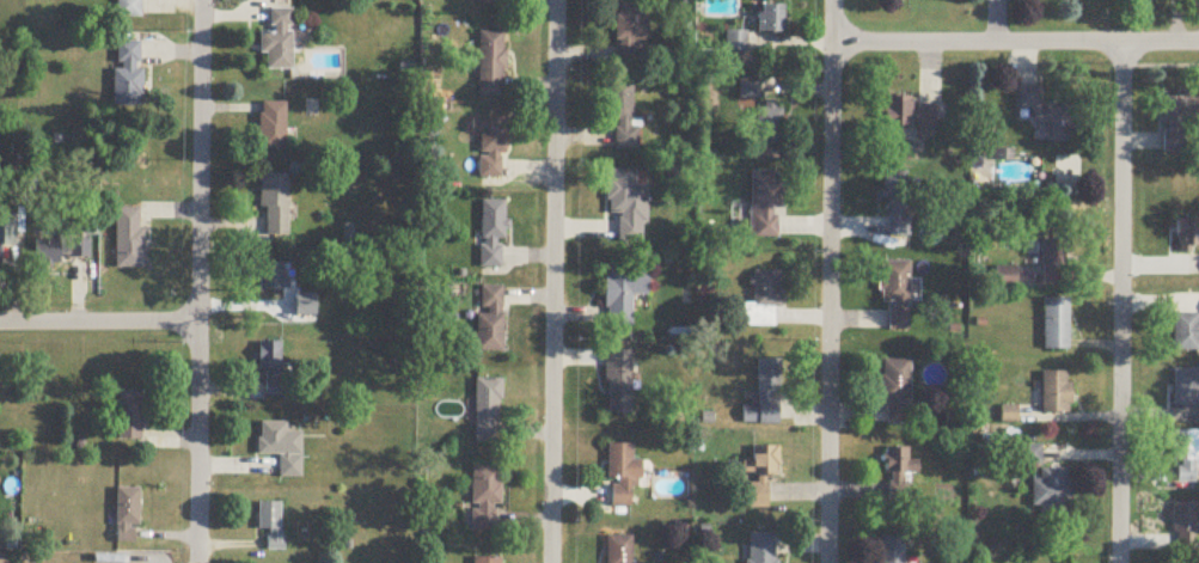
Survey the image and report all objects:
building: (491, 2)
building: (128, 8)
building: (770, 20)
building: (631, 35)
building: (277, 42)
road: (1015, 42)
building: (736, 43)
building: (491, 66)
building: (127, 75)
building: (623, 114)
building: (909, 115)
building: (1051, 118)
building: (769, 124)
building: (271, 127)
building: (1174, 127)
building: (491, 148)
building: (626, 203)
building: (895, 204)
building: (274, 206)
building: (764, 206)
building: (7, 232)
building: (493, 235)
building: (1187, 237)
building: (128, 239)
building: (60, 246)
building: (1056, 258)
building: (271, 277)
road: (196, 281)
road: (551, 281)
road: (830, 281)
building: (623, 292)
building: (897, 295)
road: (1120, 301)
building: (763, 302)
building: (490, 320)
road: (98, 323)
building: (1056, 325)
building: (1186, 333)
building: (271, 369)
building: (618, 384)
building: (1186, 388)
building: (897, 393)
building: (1056, 393)
building: (765, 398)
building: (487, 412)
building: (129, 417)
building: (281, 449)
building: (1029, 457)
building: (1186, 458)
building: (898, 475)
building: (623, 477)
building: (759, 478)
building: (1051, 491)
building: (484, 501)
building: (126, 518)
building: (270, 525)
building: (1183, 527)
building: (760, 549)
building: (619, 550)
building: (892, 550)
building: (485, 561)

